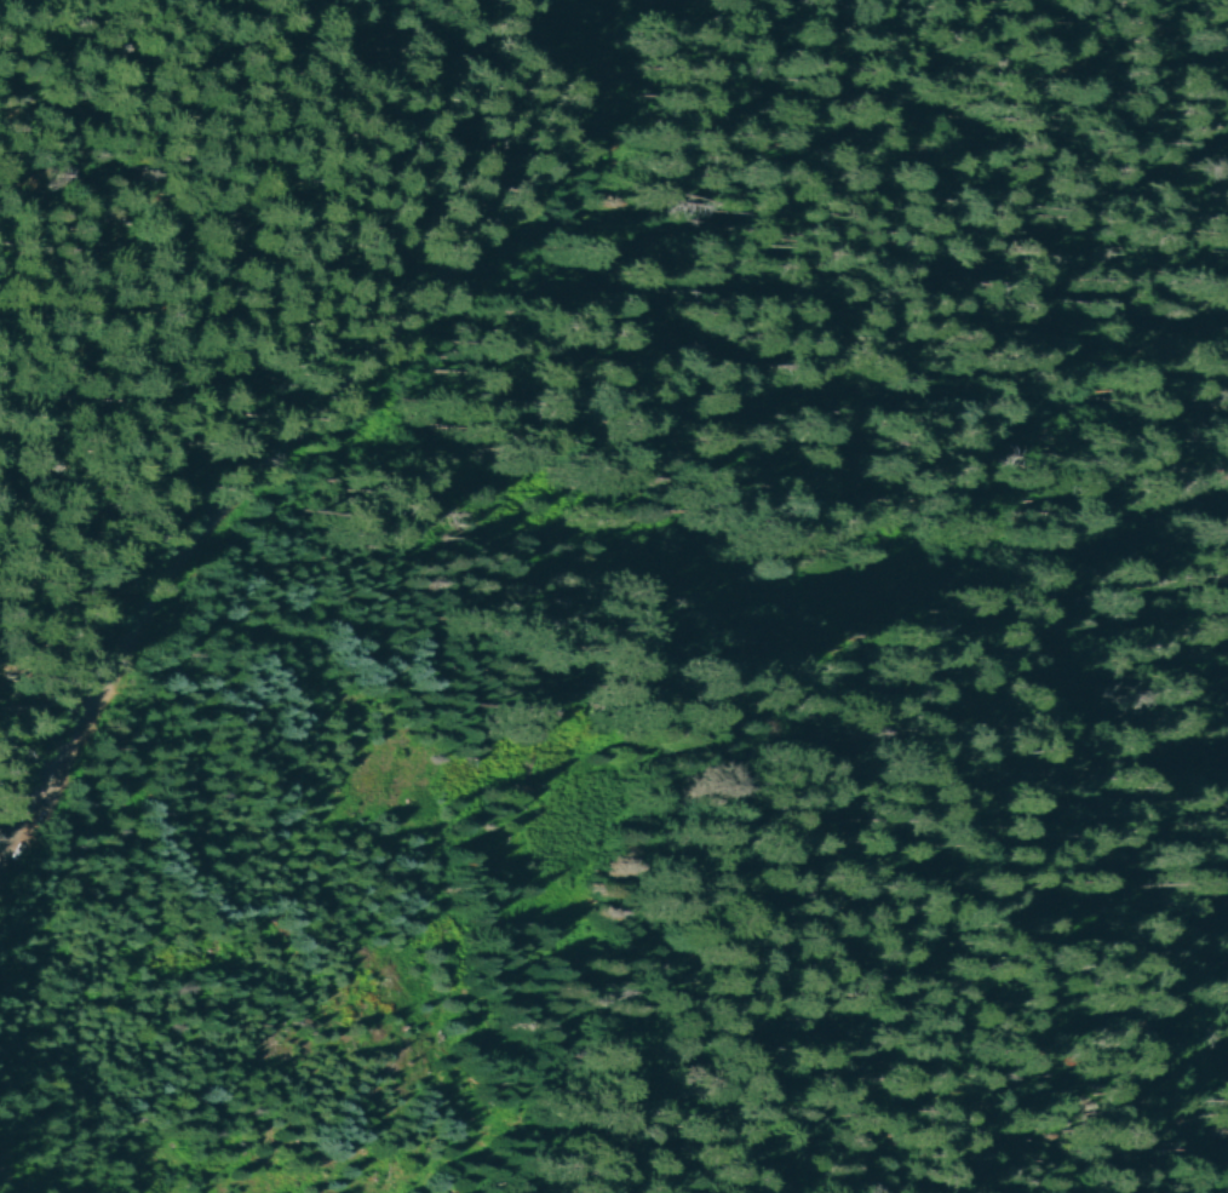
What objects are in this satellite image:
road: (298, 420)
road: (28, 518)

